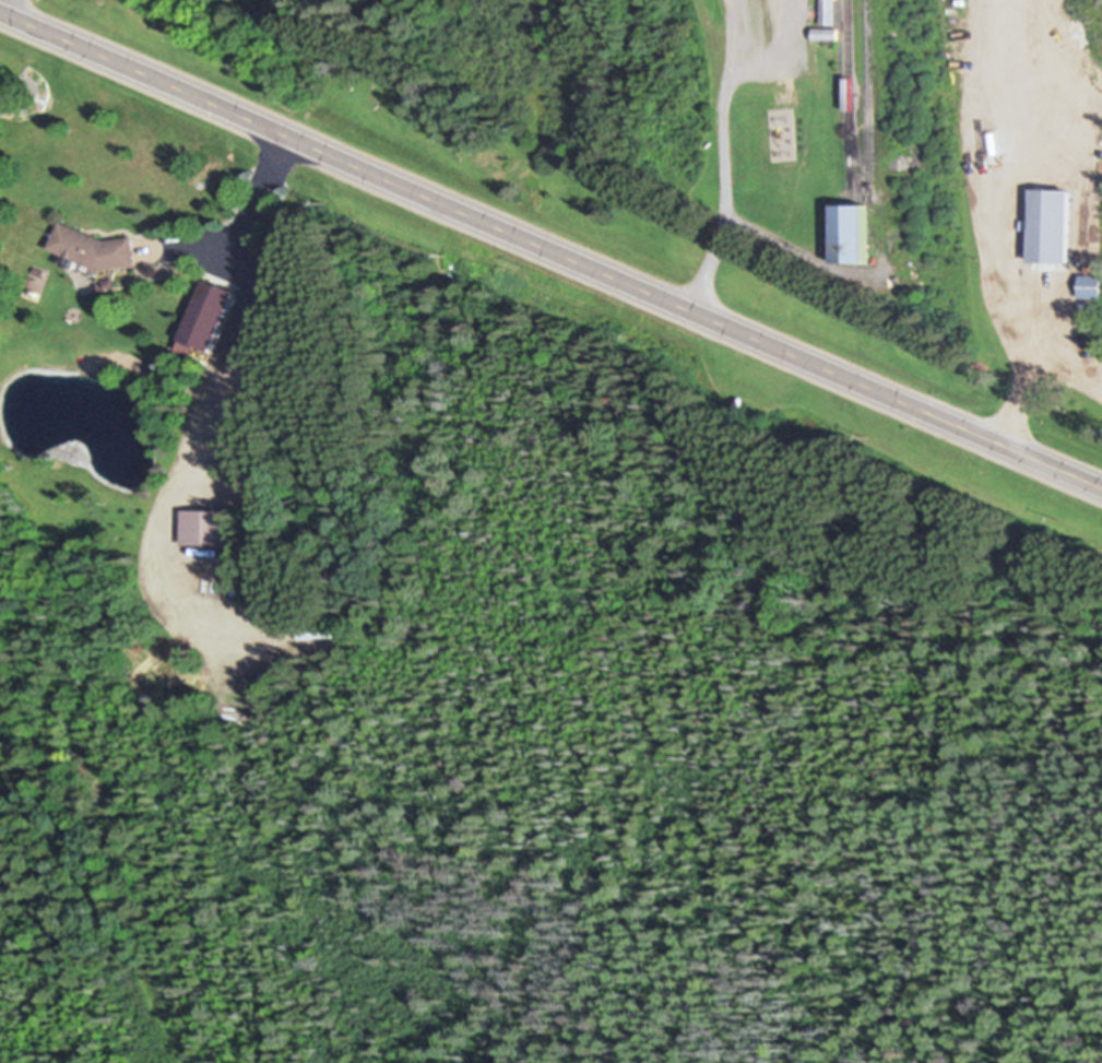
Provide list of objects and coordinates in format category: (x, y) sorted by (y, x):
road: (0, 1)
building: (829, 13)
building: (826, 35)
railway: (867, 103)
railway: (850, 125)
railway: (857, 174)
road: (723, 175)
road: (254, 213)
road: (1011, 226)
building: (1048, 226)
building: (850, 233)
building: (92, 248)
road: (550, 249)
building: (1090, 287)
building: (205, 320)
road: (182, 458)
building: (205, 528)

